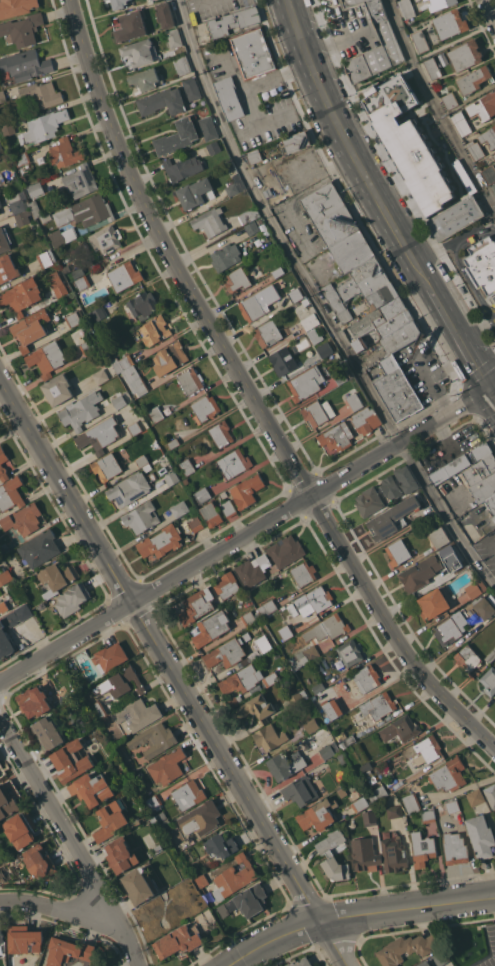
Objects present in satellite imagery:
building: (105, 0)
building: (424, 0)
building: (428, 0)
building: (347, 2)
building: (119, 3)
road: (193, 3)
building: (440, 4)
building: (16, 7)
building: (406, 8)
road: (491, 11)
building: (165, 14)
building: (234, 21)
building: (410, 21)
building: (451, 23)
building: (131, 26)
building: (23, 28)
building: (174, 37)
road: (491, 37)
building: (420, 40)
building: (376, 47)
building: (139, 51)
building: (253, 52)
building: (465, 54)
road: (410, 62)
building: (181, 63)
building: (25, 64)
building: (432, 67)
building: (145, 78)
building: (474, 79)
building: (191, 87)
road: (247, 89)
building: (42, 93)
building: (2, 96)
building: (229, 97)
building: (450, 100)
building: (162, 101)
building: (483, 106)
road: (435, 107)
building: (425, 120)
building: (461, 123)
building: (45, 125)
building: (208, 127)
building: (8, 128)
road: (251, 129)
building: (177, 136)
building: (489, 137)
building: (296, 142)
road: (351, 143)
building: (212, 147)
building: (1, 148)
building: (475, 149)
building: (65, 152)
building: (494, 155)
building: (254, 156)
building: (22, 158)
building: (182, 167)
building: (231, 169)
building: (489, 173)
building: (22, 177)
building: (1, 178)
building: (80, 180)
building: (234, 185)
building: (493, 187)
building: (35, 188)
building: (267, 191)
building: (196, 192)
building: (0, 196)
building: (0, 204)
building: (25, 209)
building: (0, 211)
building: (85, 211)
building: (249, 214)
building: (330, 214)
building: (456, 216)
building: (210, 221)
road: (417, 223)
building: (253, 225)
building: (62, 235)
road: (456, 237)
building: (106, 238)
building: (4, 239)
building: (352, 251)
building: (246, 252)
building: (225, 256)
building: (45, 258)
building: (482, 264)
building: (7, 268)
building: (66, 268)
building: (278, 271)
building: (124, 275)
building: (80, 278)
road: (467, 278)
building: (236, 279)
building: (365, 279)
building: (57, 283)
building: (295, 294)
building: (21, 295)
building: (333, 297)
building: (381, 297)
building: (259, 302)
building: (306, 302)
road: (318, 302)
building: (140, 305)
building: (97, 312)
building: (344, 317)
building: (378, 317)
building: (73, 318)
building: (310, 321)
building: (395, 323)
road: (477, 326)
building: (30, 328)
building: (154, 329)
road: (427, 331)
building: (268, 332)
road: (458, 334)
building: (314, 335)
building: (401, 336)
building: (360, 343)
building: (87, 346)
building: (324, 349)
building: (173, 354)
building: (47, 357)
building: (283, 359)
building: (130, 374)
building: (100, 375)
building: (341, 376)
building: (190, 380)
building: (306, 383)
road: (492, 386)
traffic signals: (490, 388)
building: (58, 389)
building: (397, 389)
road: (492, 391)
road: (250, 393)
building: (355, 399)
building: (119, 400)
building: (205, 408)
building: (81, 409)
building: (318, 411)
building: (156, 413)
building: (365, 419)
building: (134, 428)
road: (485, 432)
building: (221, 433)
building: (99, 434)
building: (337, 436)
building: (173, 442)
road: (403, 458)
building: (142, 460)
building: (233, 462)
building: (1, 464)
building: (458, 464)
building: (107, 466)
building: (187, 466)
building: (162, 469)
building: (478, 471)
building: (153, 476)
building: (171, 477)
building: (406, 478)
building: (390, 487)
building: (130, 488)
building: (482, 489)
building: (247, 490)
road: (65, 491)
building: (10, 493)
building: (203, 494)
road: (311, 497)
building: (369, 501)
building: (491, 504)
building: (179, 508)
building: (228, 508)
building: (211, 513)
building: (141, 516)
building: (392, 517)
building: (23, 518)
building: (196, 523)
building: (439, 536)
building: (161, 541)
building: (3, 547)
building: (39, 548)
building: (286, 550)
building: (397, 552)
building: (457, 564)
building: (253, 569)
building: (304, 572)
building: (419, 573)
building: (5, 576)
building: (57, 577)
building: (227, 584)
building: (477, 588)
building: (72, 598)
building: (314, 600)
building: (432, 603)
building: (196, 605)
building: (485, 605)
building: (3, 606)
building: (267, 607)
building: (249, 617)
road: (403, 621)
building: (211, 627)
building: (327, 627)
building: (451, 627)
building: (285, 631)
building: (6, 639)
road: (65, 642)
building: (263, 643)
building: (350, 652)
building: (225, 653)
building: (276, 653)
building: (490, 655)
building: (109, 656)
building: (303, 656)
building: (467, 657)
building: (366, 677)
building: (247, 678)
building: (489, 680)
building: (121, 682)
building: (317, 686)
building: (298, 697)
building: (235, 700)
building: (34, 701)
building: (378, 705)
building: (332, 707)
building: (255, 708)
building: (99, 710)
building: (137, 713)
building: (311, 724)
building: (400, 728)
building: (48, 732)
building: (269, 736)
building: (344, 736)
building: (153, 739)
building: (318, 739)
building: (429, 747)
building: (332, 751)
building: (71, 760)
road: (226, 762)
building: (286, 764)
building: (167, 766)
building: (366, 766)
building: (448, 774)
building: (91, 789)
building: (300, 790)
building: (342, 791)
building: (380, 791)
building: (490, 793)
building: (188, 794)
building: (475, 796)
building: (8, 798)
building: (153, 802)
building: (411, 802)
building: (359, 803)
building: (452, 805)
building: (394, 811)
building: (318, 814)
building: (428, 815)
building: (369, 817)
road: (56, 818)
building: (111, 819)
building: (159, 819)
building: (199, 820)
building: (138, 821)
building: (20, 829)
building: (481, 836)
building: (221, 845)
building: (422, 848)
building: (454, 848)
building: (155, 850)
building: (199, 852)
building: (393, 853)
building: (121, 854)
building: (333, 854)
building: (365, 854)
building: (41, 862)
building: (207, 862)
building: (233, 877)
building: (200, 880)
building: (139, 885)
road: (494, 897)
building: (246, 900)
road: (408, 906)
road: (56, 907)
building: (1, 935)
building: (25, 938)
road: (274, 938)
building: (178, 940)
road: (124, 941)
road: (334, 944)
building: (408, 948)
building: (68, 950)
building: (440, 957)
building: (300, 962)
building: (425, 963)

